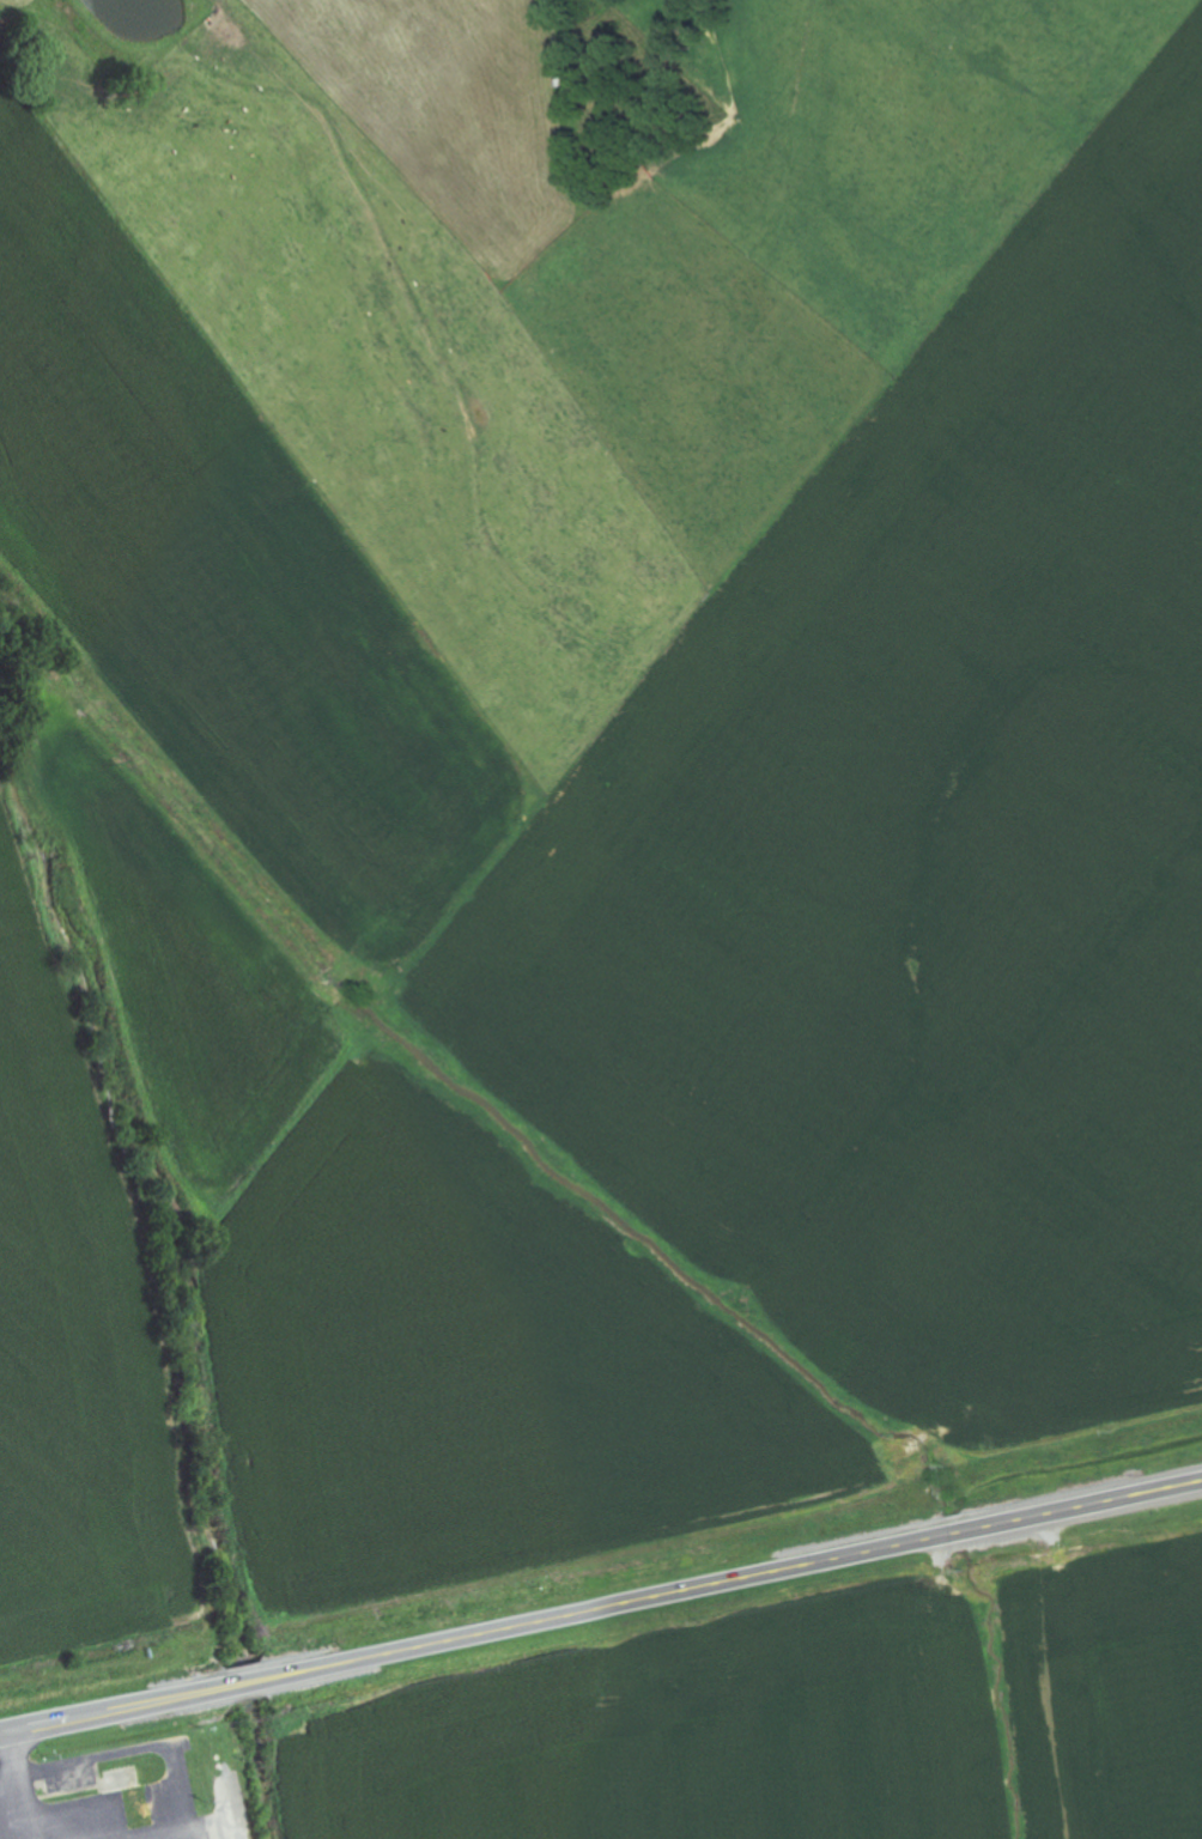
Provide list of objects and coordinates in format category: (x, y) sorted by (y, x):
road: (601, 1608)

